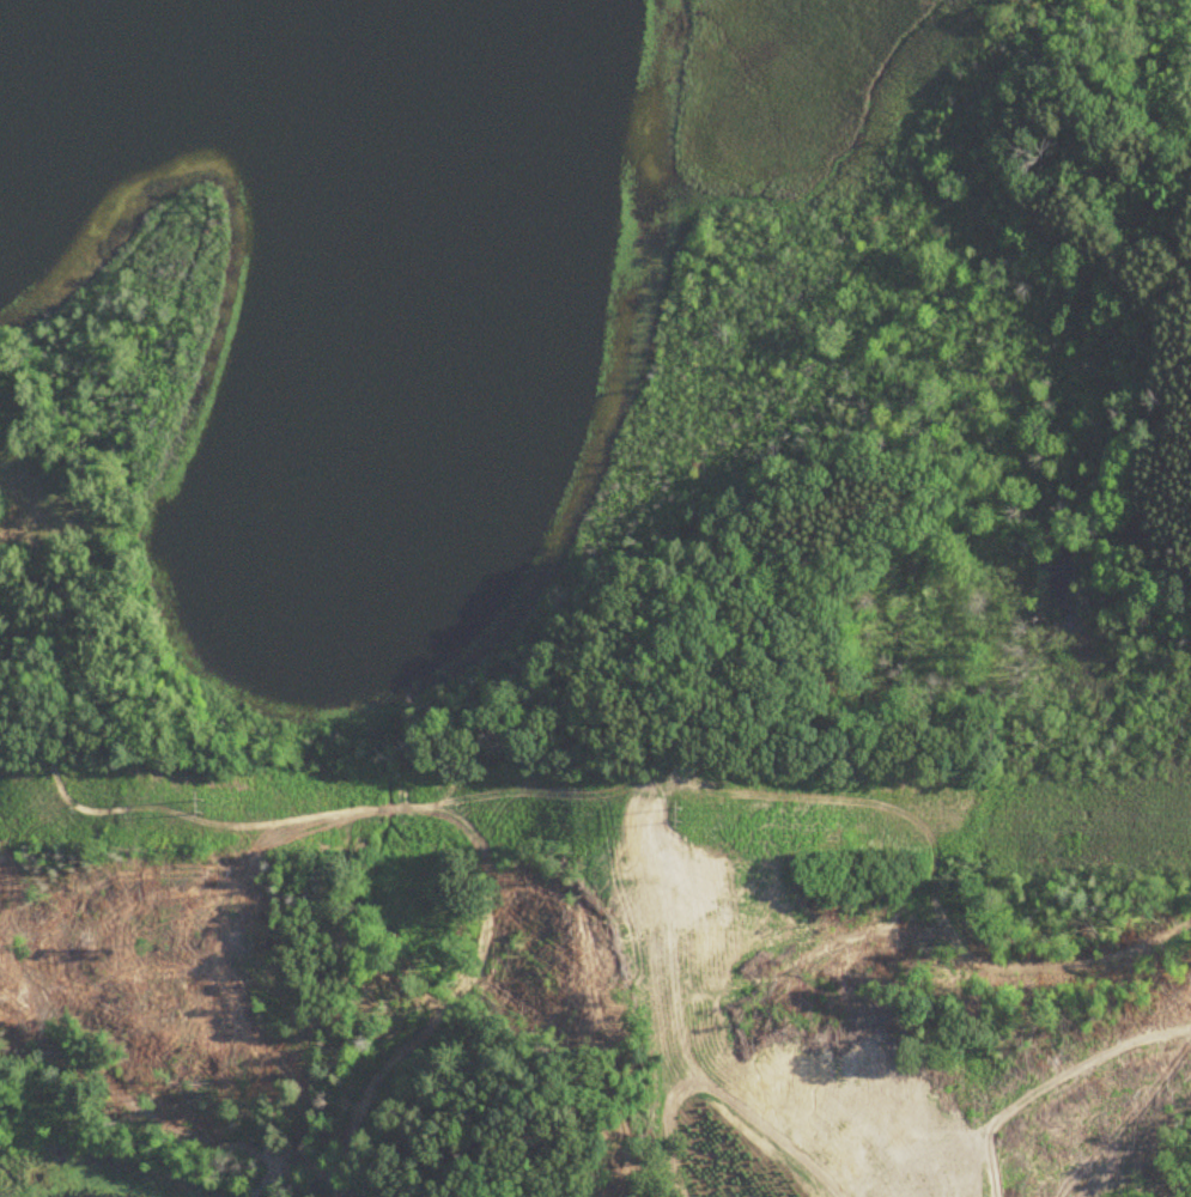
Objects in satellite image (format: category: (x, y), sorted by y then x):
power tower: (200, 804)
power tower: (685, 818)

